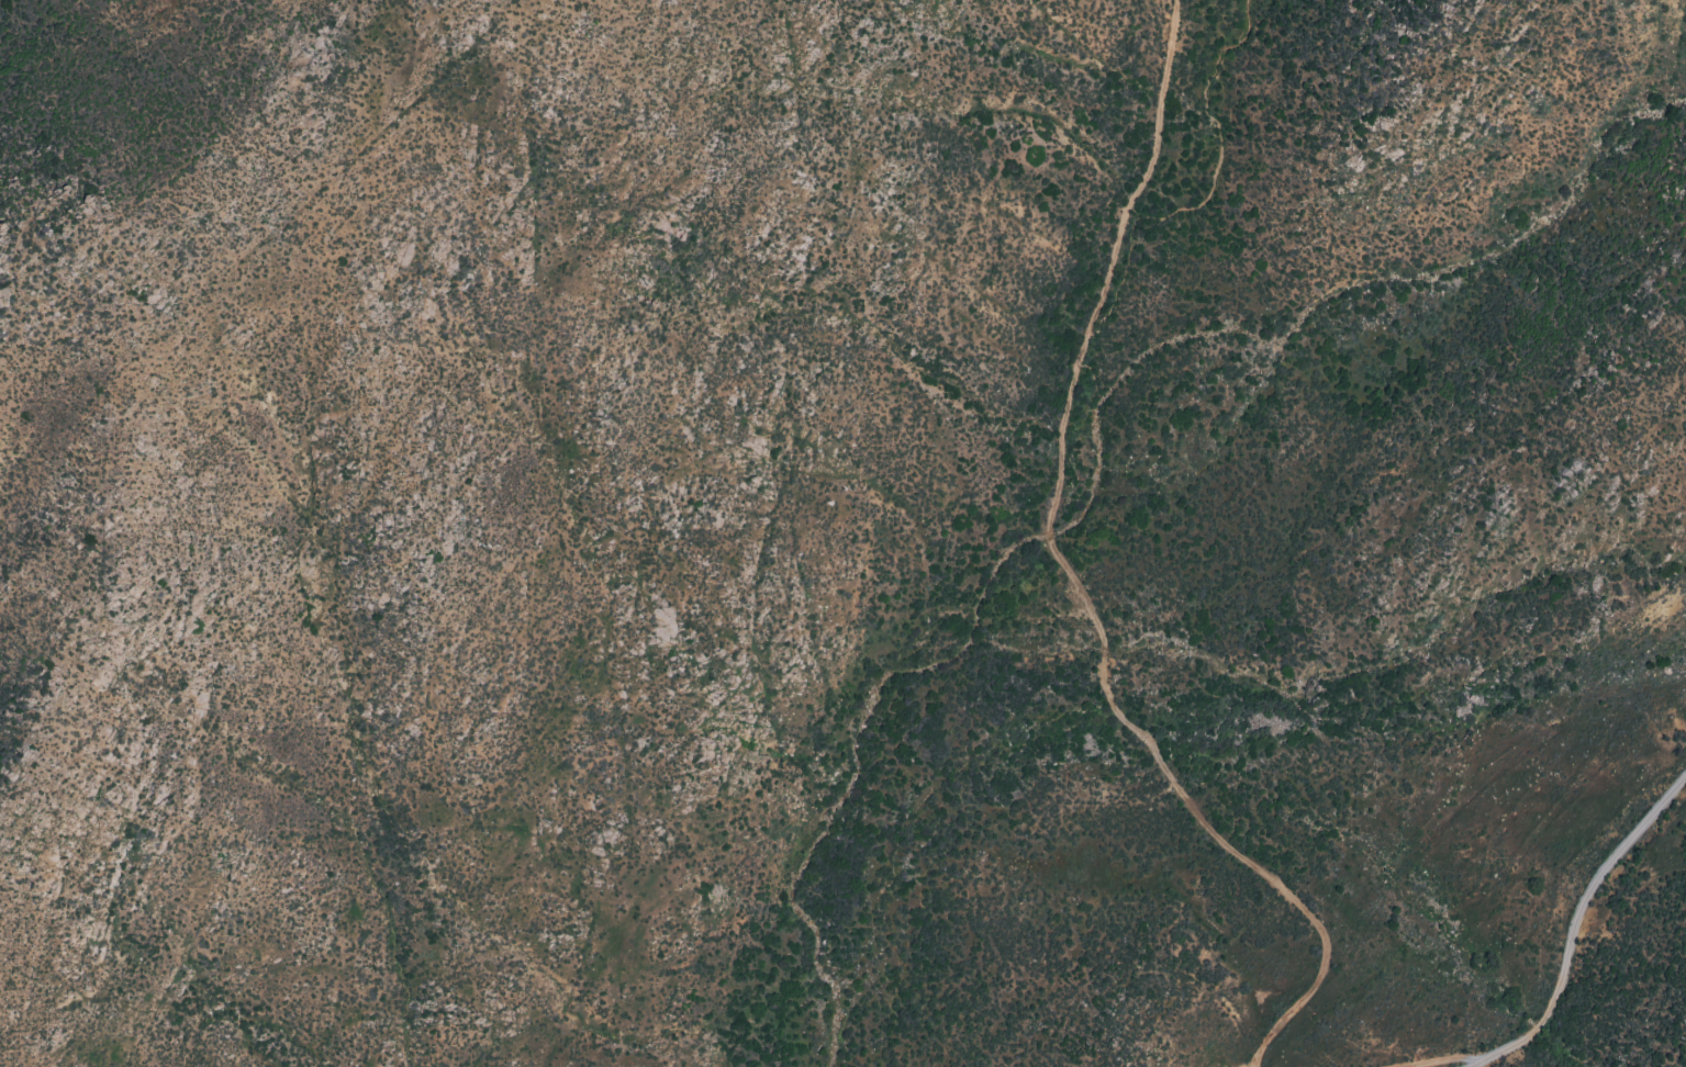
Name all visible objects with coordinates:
road: (1568, 919)
road: (1445, 1055)

